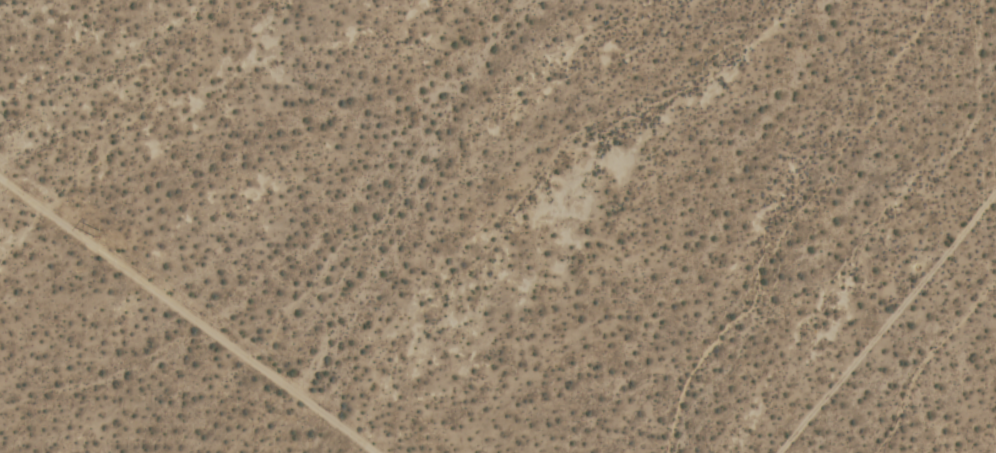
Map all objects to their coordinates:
power tower: (99, 237)
road: (184, 317)

